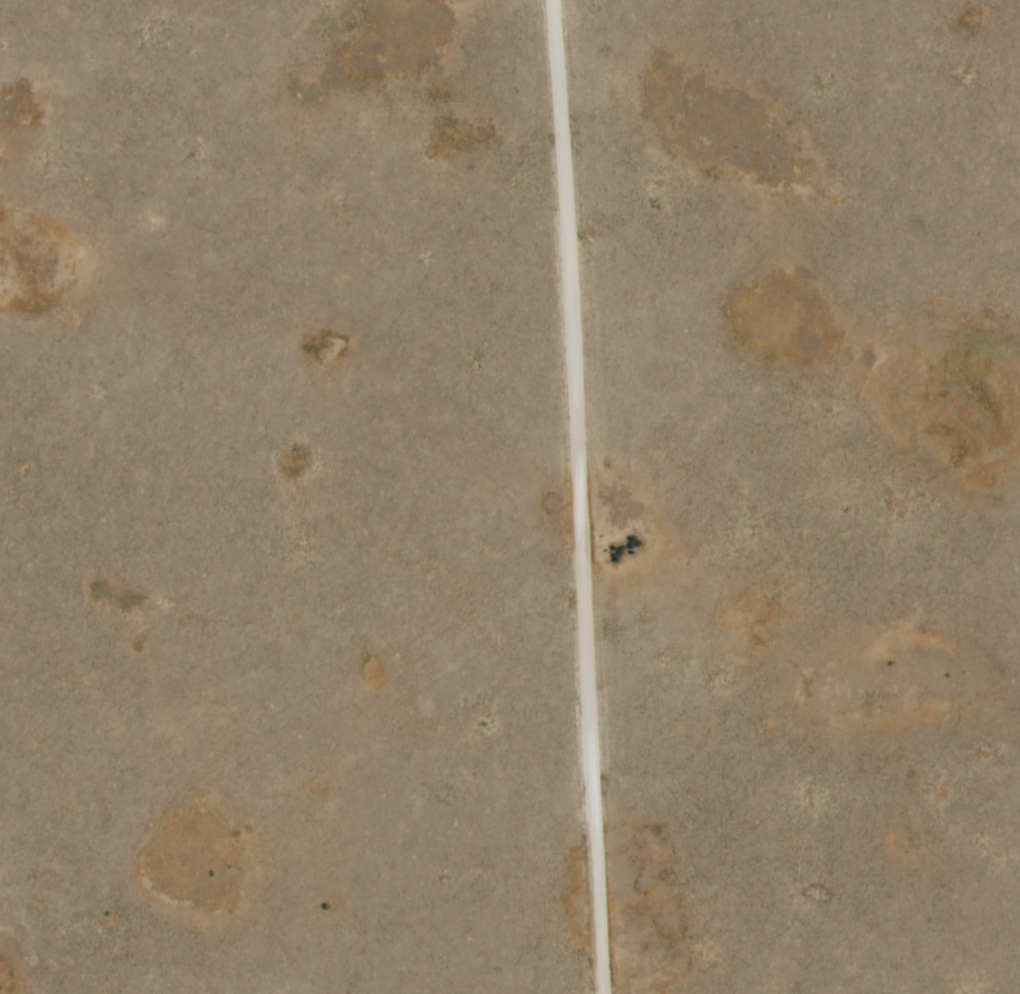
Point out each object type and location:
road: (580, 496)

